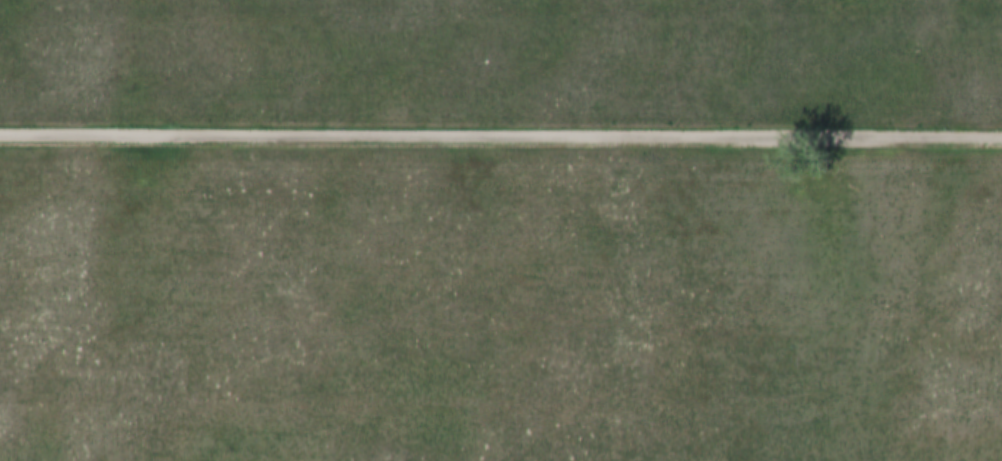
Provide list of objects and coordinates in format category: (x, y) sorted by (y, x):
road: (501, 137)

